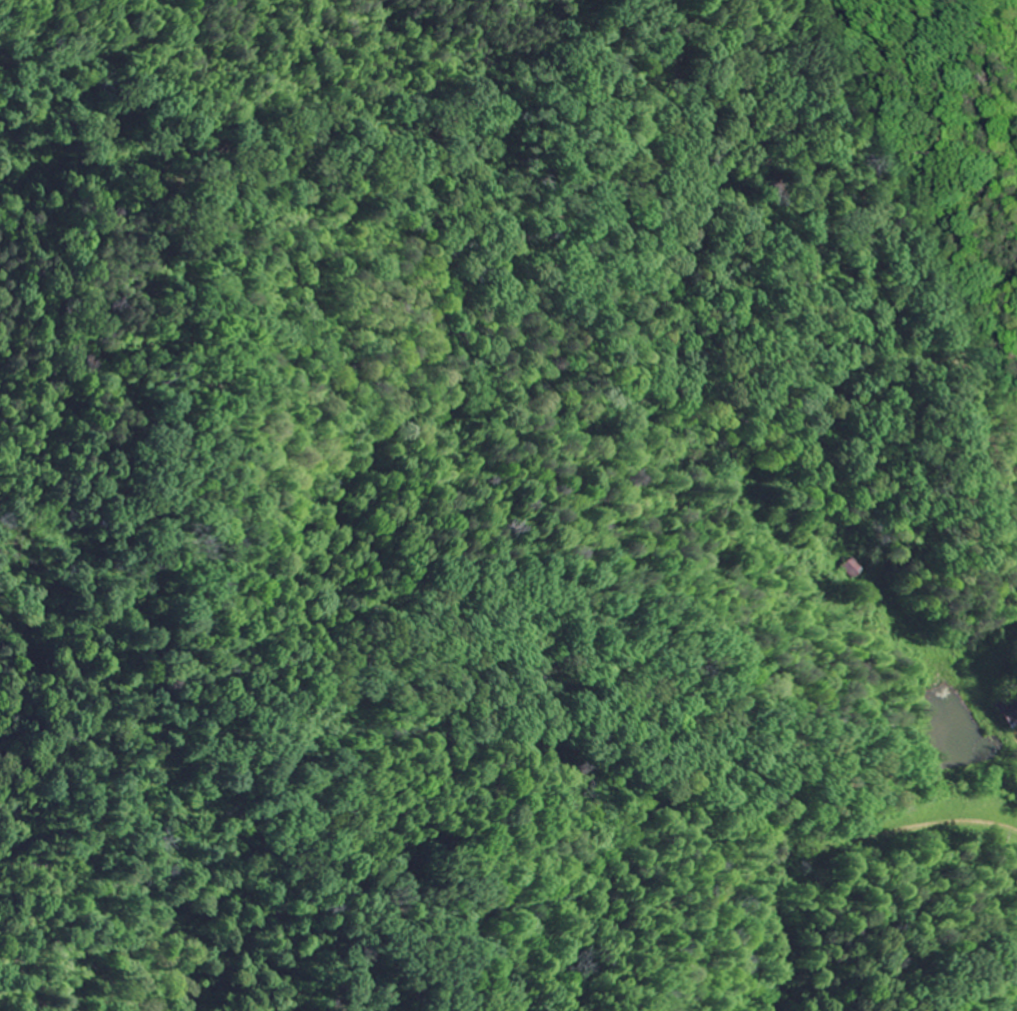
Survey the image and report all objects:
road: (1007, 666)

